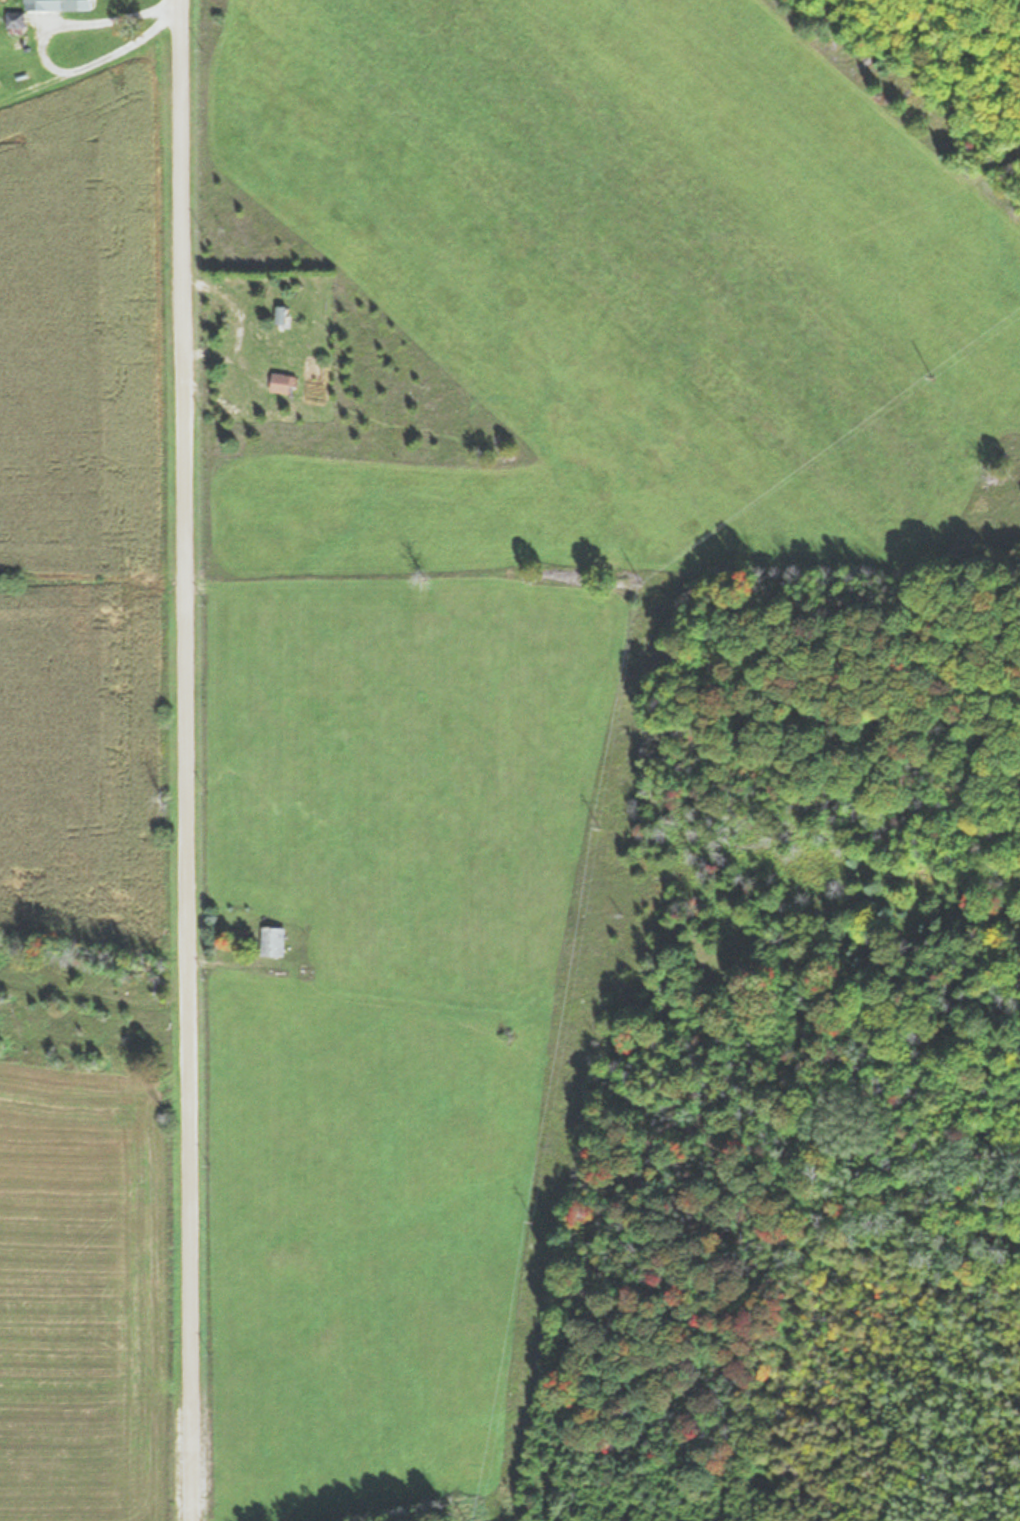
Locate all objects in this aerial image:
building: (72, 4)
building: (283, 316)
building: (284, 383)
road: (185, 760)
building: (275, 940)

